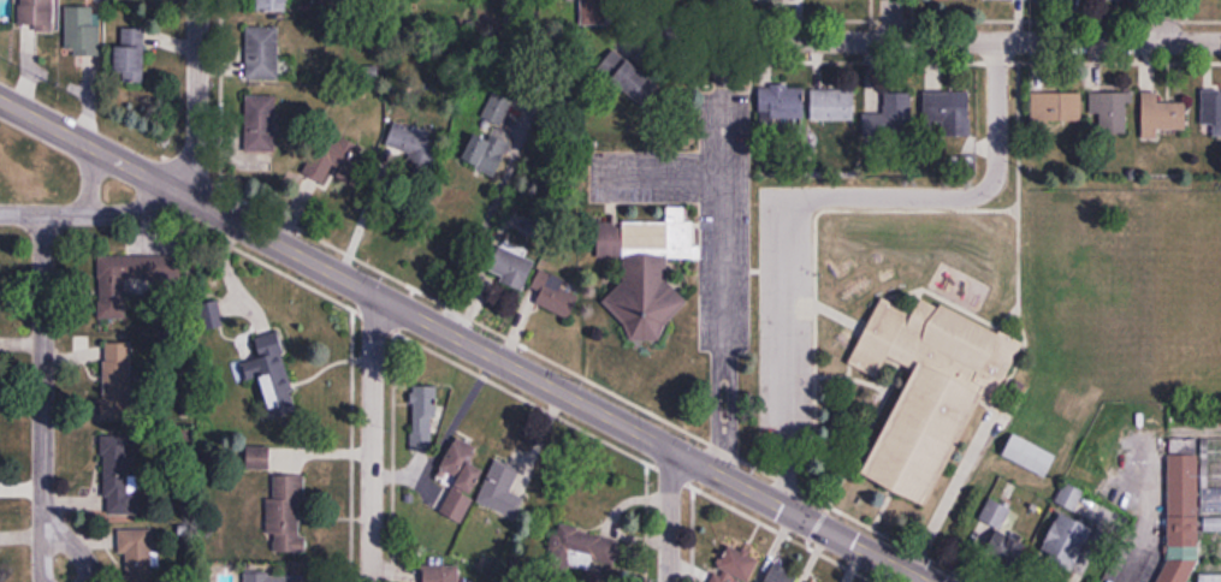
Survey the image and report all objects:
building: (266, 5)
building: (1, 8)
building: (36, 14)
road: (653, 16)
road: (891, 20)
road: (1164, 20)
building: (83, 31)
road: (941, 41)
building: (255, 49)
building: (130, 57)
building: (636, 82)
road: (196, 97)
building: (782, 103)
building: (832, 105)
building: (1054, 108)
building: (1211, 109)
building: (1112, 111)
building: (947, 113)
building: (891, 114)
building: (1161, 115)
building: (254, 121)
building: (333, 158)
building: (490, 167)
road: (663, 170)
road: (89, 180)
road: (801, 191)
road: (490, 201)
road: (357, 212)
road: (90, 214)
road: (723, 257)
building: (132, 268)
building: (512, 268)
building: (646, 269)
building: (557, 293)
road: (463, 339)
road: (42, 373)
building: (271, 373)
building: (931, 388)
building: (423, 416)
building: (120, 429)
road: (374, 438)
building: (259, 458)
building: (461, 480)
building: (502, 492)
road: (1143, 505)
building: (1183, 512)
building: (288, 515)
road: (669, 515)
road: (53, 539)
building: (1067, 540)
building: (580, 548)
building: (1006, 550)
building: (136, 554)
building: (735, 565)
building: (444, 574)
building: (778, 574)
building: (274, 577)
building: (1210, 578)
building: (814, 581)

